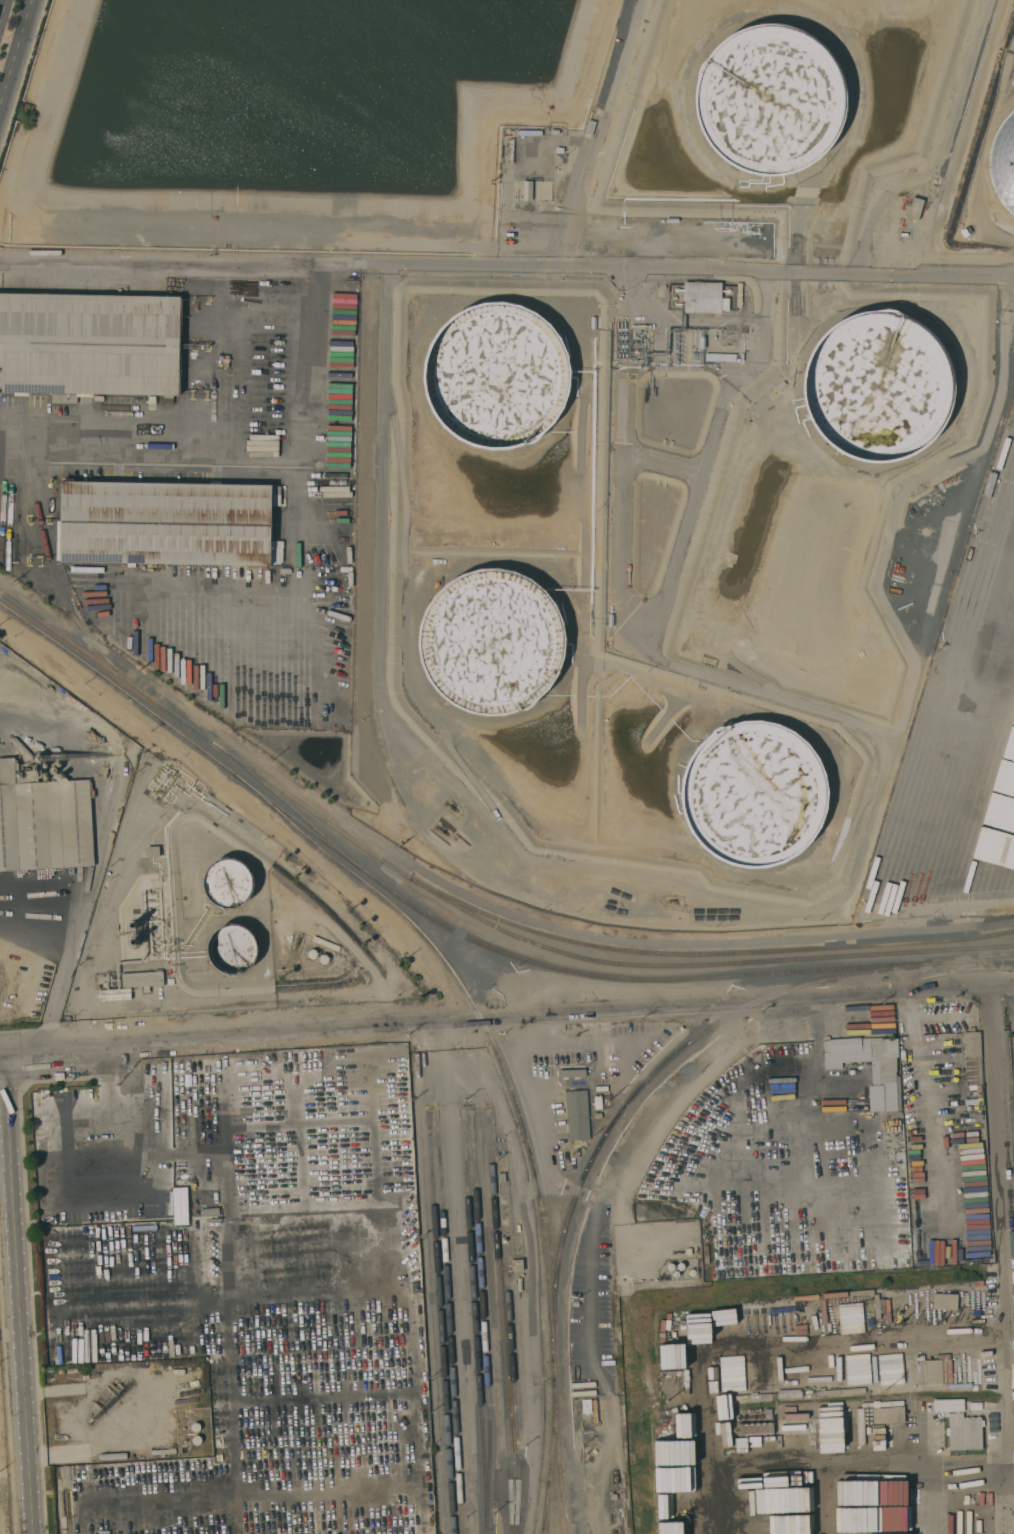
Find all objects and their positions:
road: (2, 9)
road: (15, 52)
building: (770, 99)
building: (1003, 162)
building: (527, 190)
building: (915, 208)
road: (507, 262)
building: (703, 297)
road: (272, 314)
building: (90, 343)
building: (496, 375)
building: (878, 386)
building: (64, 398)
road: (300, 462)
building: (1005, 467)
building: (168, 523)
road: (380, 530)
railway: (51, 562)
building: (999, 604)
building: (491, 641)
railway: (126, 692)
building: (22, 748)
building: (972, 767)
road: (120, 776)
building: (754, 793)
railway: (285, 801)
building: (43, 822)
building: (152, 851)
building: (228, 883)
railway: (463, 908)
road: (40, 915)
building: (232, 949)
building: (310, 952)
railway: (707, 956)
railway: (973, 959)
railway: (1000, 959)
railway: (565, 969)
building: (142, 979)
road: (58, 993)
building: (114, 994)
road: (508, 1022)
building: (972, 1056)
road: (2, 1057)
building: (782, 1063)
building: (572, 1073)
railway: (652, 1073)
building: (882, 1074)
railway: (519, 1109)
building: (577, 1114)
road: (122, 1150)
building: (501, 1177)
building: (179, 1205)
building: (503, 1210)
building: (382, 1217)
road: (998, 1218)
building: (226, 1224)
building: (238, 1254)
building: (517, 1265)
building: (670, 1266)
building: (680, 1266)
building: (212, 1272)
building: (691, 1272)
building: (675, 1273)
road: (233, 1275)
building: (519, 1283)
road: (18, 1295)
railway: (477, 1321)
railway: (503, 1322)
railway: (485, 1323)
railway: (443, 1324)
railway: (451, 1324)
building: (944, 1371)
building: (586, 1405)
railway: (516, 1406)
building: (595, 1411)
building: (888, 1414)
building: (417, 1425)
building: (826, 1425)
building: (195, 1426)
building: (964, 1432)
building: (196, 1439)
building: (298, 1450)
power substation: (5, 1451)
railway: (552, 1455)
railway: (565, 1499)
railway: (548, 1507)

